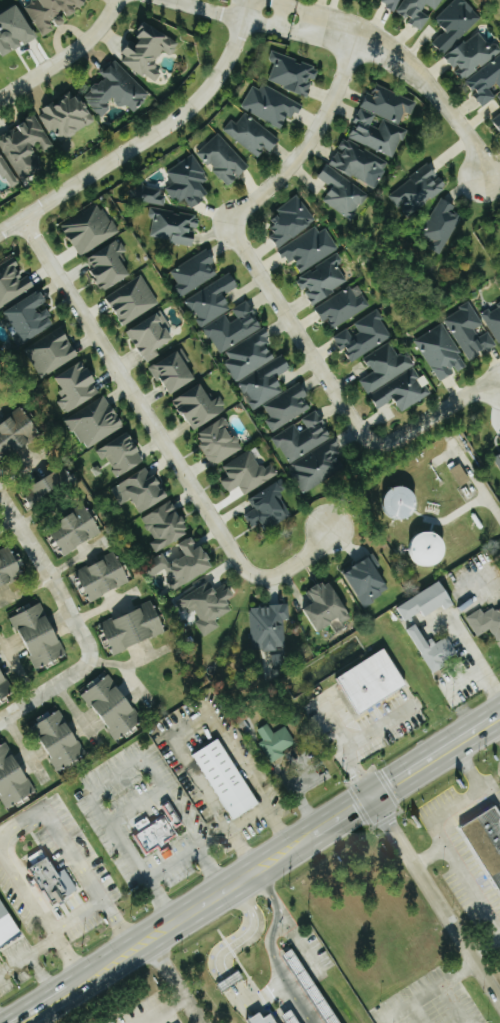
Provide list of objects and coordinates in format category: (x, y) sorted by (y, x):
road: (181, 0)
road: (246, 3)
road: (303, 7)
building: (414, 9)
road: (280, 13)
road: (251, 18)
building: (456, 24)
building: (15, 31)
building: (149, 51)
building: (473, 55)
road: (65, 56)
building: (293, 74)
road: (424, 80)
building: (486, 82)
building: (116, 90)
building: (499, 99)
building: (272, 106)
building: (67, 116)
building: (383, 121)
building: (498, 121)
building: (253, 135)
road: (145, 138)
building: (26, 147)
building: (224, 160)
building: (361, 164)
building: (8, 172)
building: (189, 182)
building: (418, 190)
building: (344, 194)
building: (1, 195)
building: (168, 219)
building: (291, 222)
building: (442, 227)
building: (90, 229)
building: (311, 248)
building: (111, 265)
building: (195, 272)
building: (323, 279)
building: (13, 282)
road: (273, 296)
building: (134, 299)
building: (343, 307)
building: (224, 314)
building: (32, 316)
building: (494, 320)
building: (470, 331)
building: (364, 335)
building: (153, 336)
building: (52, 352)
building: (442, 352)
building: (250, 355)
building: (175, 372)
building: (394, 378)
building: (265, 383)
building: (76, 386)
building: (201, 406)
building: (288, 406)
building: (96, 421)
building: (17, 433)
road: (163, 438)
building: (219, 442)
building: (312, 452)
building: (123, 454)
building: (498, 459)
road: (24, 465)
building: (247, 473)
building: (461, 475)
road: (477, 479)
road: (8, 481)
building: (51, 486)
building: (142, 490)
building: (269, 507)
road: (45, 510)
road: (7, 524)
building: (167, 525)
building: (77, 530)
building: (185, 564)
building: (11, 567)
road: (55, 573)
road: (51, 576)
building: (105, 576)
building: (369, 581)
building: (427, 602)
building: (209, 605)
building: (328, 605)
road: (105, 606)
building: (486, 622)
building: (269, 627)
building: (40, 634)
road: (468, 639)
building: (433, 648)
road: (129, 663)
road: (17, 668)
building: (374, 681)
road: (136, 684)
building: (4, 686)
road: (458, 687)
road: (45, 690)
building: (114, 706)
road: (77, 713)
road: (184, 715)
road: (469, 720)
road: (490, 722)
road: (378, 727)
road: (498, 731)
road: (498, 734)
building: (61, 740)
building: (276, 741)
road: (343, 743)
road: (25, 748)
road: (401, 763)
road: (438, 769)
road: (475, 769)
building: (13, 777)
building: (227, 779)
traffic signals: (364, 786)
traffic signals: (379, 806)
road: (183, 817)
road: (249, 822)
road: (346, 825)
building: (158, 829)
road: (446, 835)
building: (489, 836)
road: (123, 840)
road: (434, 855)
road: (209, 862)
road: (174, 863)
road: (13, 864)
road: (85, 876)
building: (55, 881)
road: (211, 882)
road: (433, 888)
road: (77, 918)
building: (7, 925)
road: (173, 933)
road: (242, 936)
road: (488, 947)
road: (64, 952)
road: (271, 952)
road: (27, 954)
road: (37, 971)
building: (231, 979)
road: (227, 980)
road: (51, 985)
road: (445, 986)
road: (180, 992)
road: (265, 995)
road: (239, 999)
road: (21, 1005)
road: (192, 1011)
building: (294, 1017)
road: (251, 1018)
building: (266, 1019)

